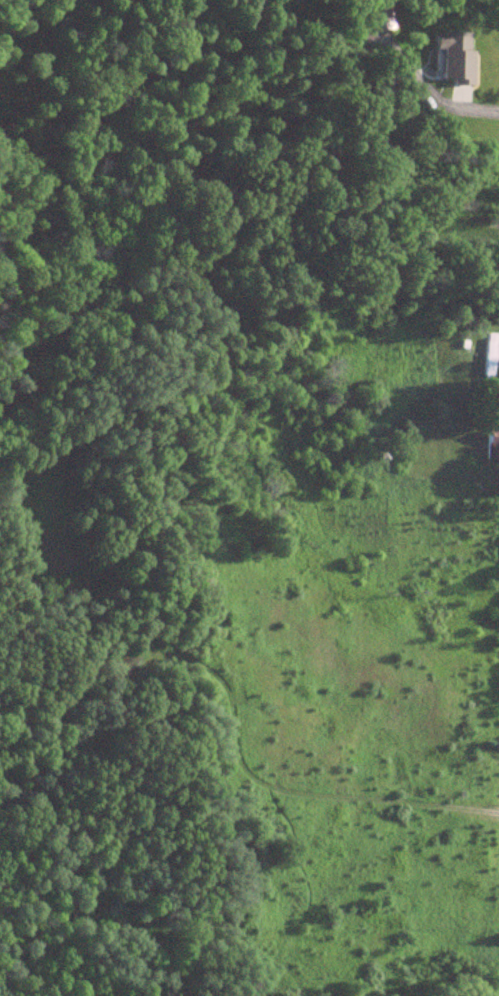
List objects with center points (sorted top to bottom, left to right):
building: (456, 56)
building: (488, 354)
building: (492, 448)

